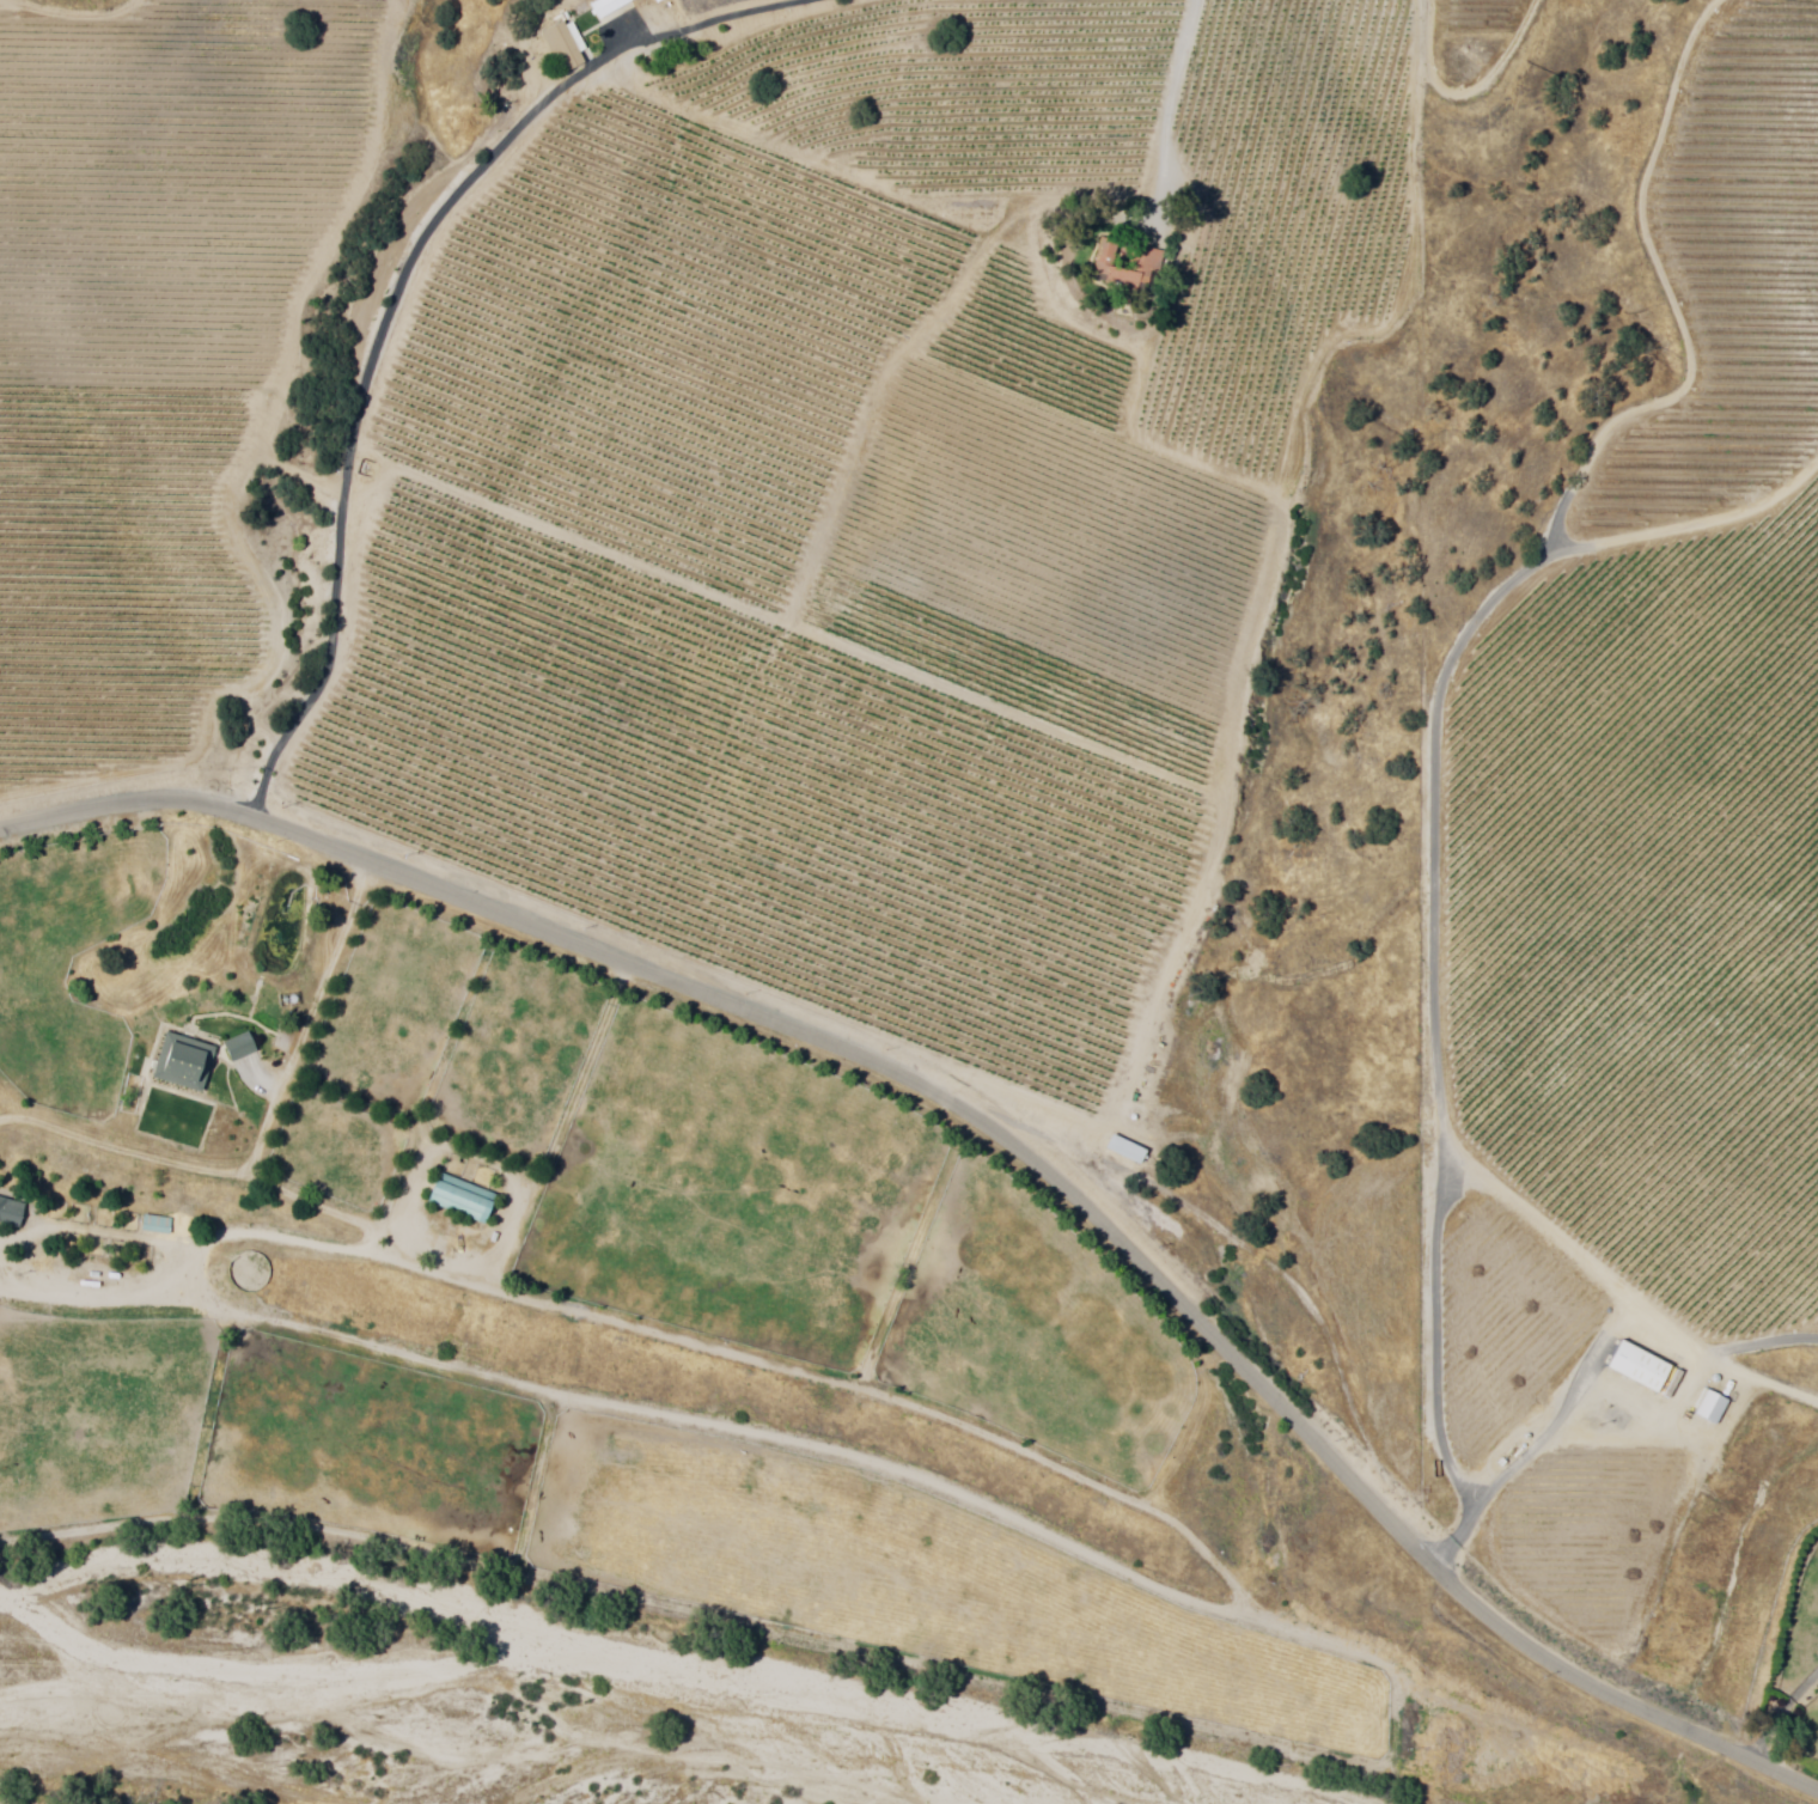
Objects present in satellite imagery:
building: (608, 7)
building: (563, 49)
road: (1171, 110)
building: (1128, 266)
road: (394, 303)
crop: (69, 965)
road: (318, 1002)
crop: (396, 1010)
building: (240, 1047)
crop: (519, 1058)
building: (185, 1062)
road: (994, 1130)
building: (1125, 1151)
crop: (338, 1152)
crop: (733, 1193)
building: (460, 1196)
building: (11, 1212)
building: (158, 1224)
crop: (1038, 1335)
building: (1636, 1369)
building: (1712, 1408)
crop: (99, 1418)
crop: (370, 1448)
crop: (920, 1583)
river: (616, 1641)

